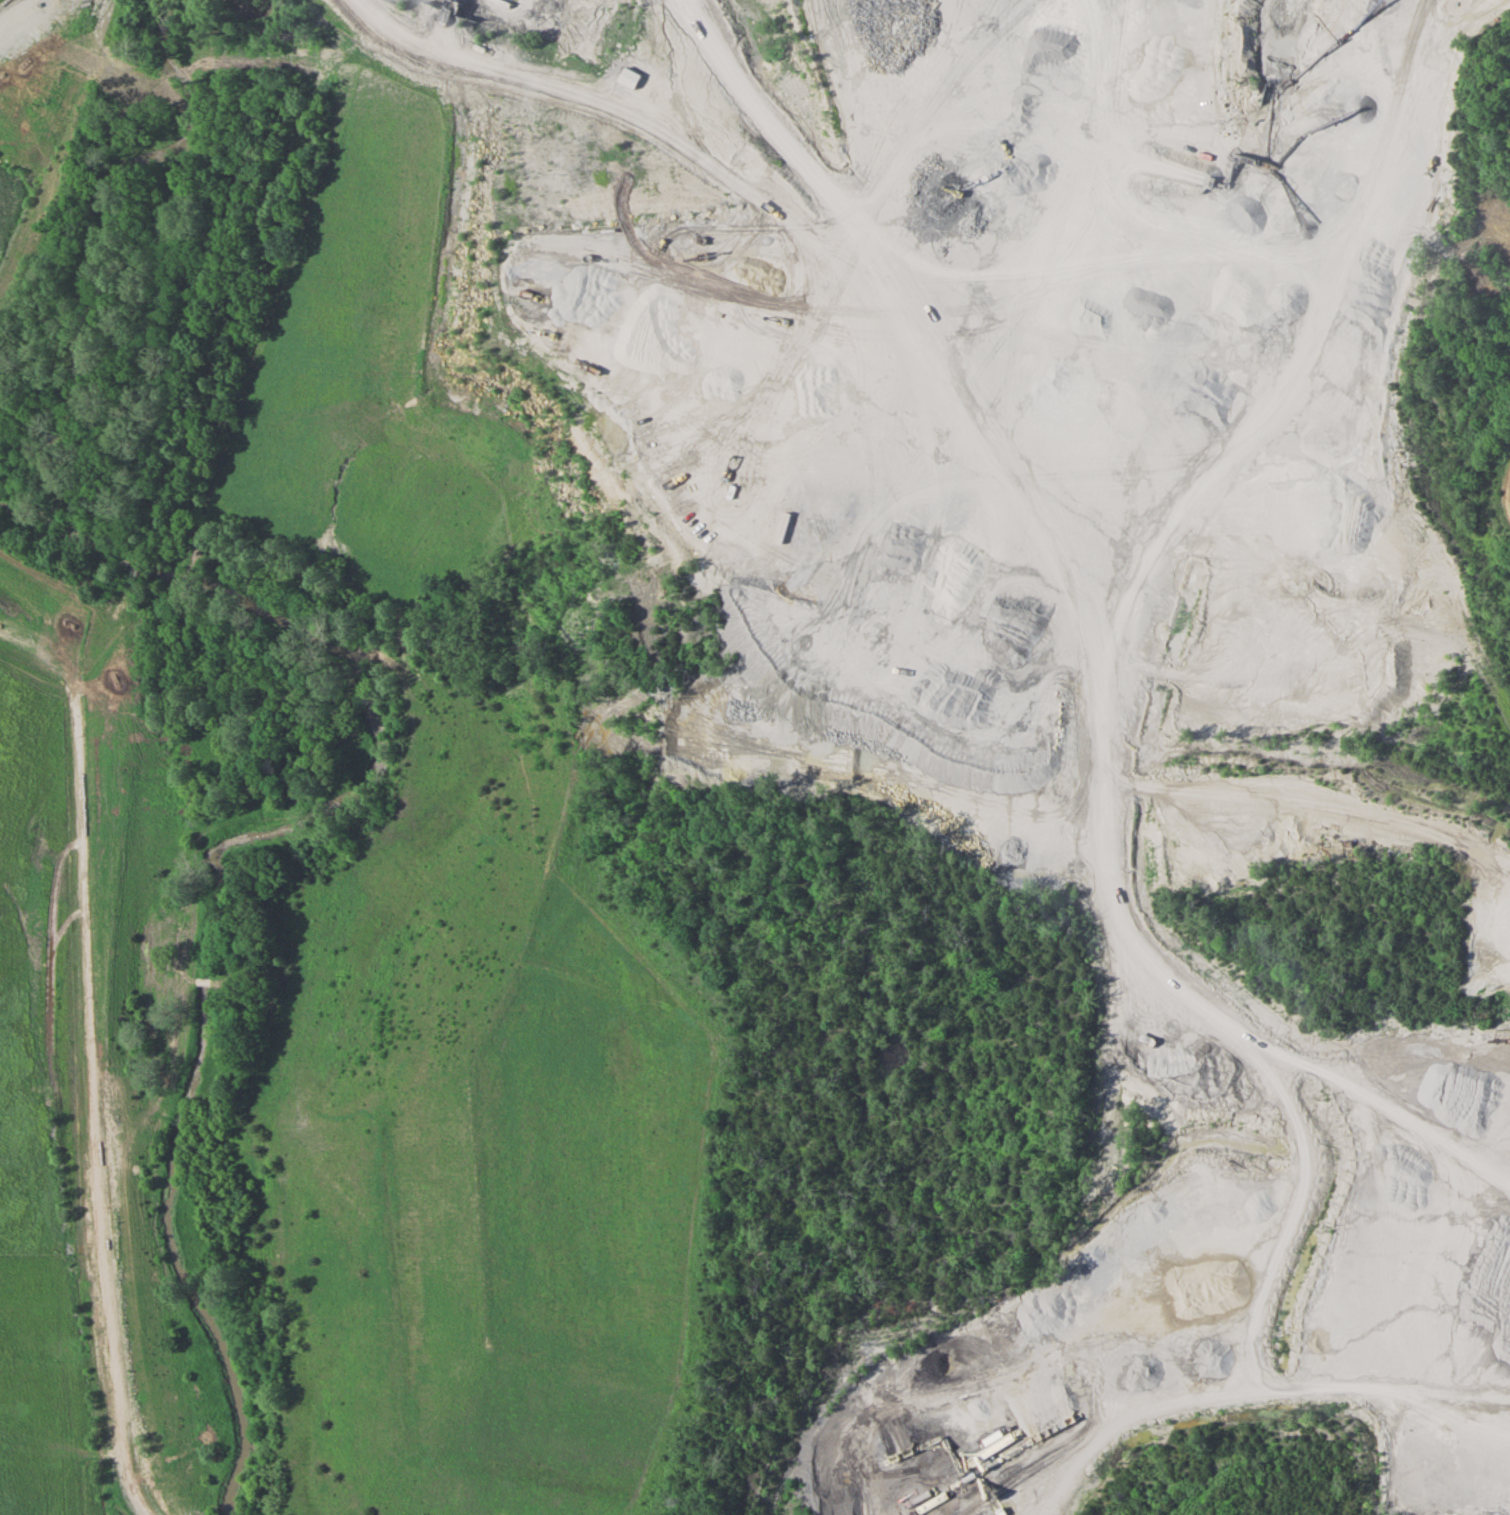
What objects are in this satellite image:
road: (468, 79)
building: (632, 79)
road: (50, 128)
road: (750, 702)
road: (91, 1027)
road: (1253, 1391)
building: (998, 1436)

